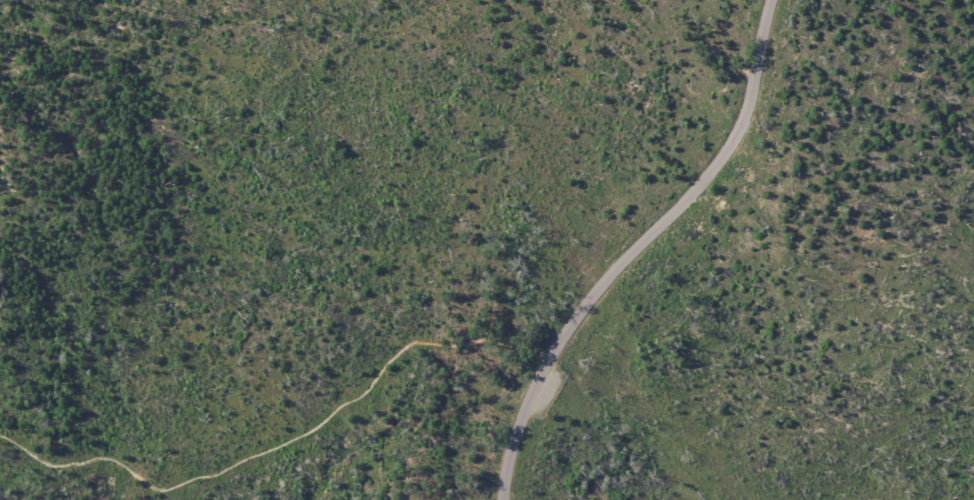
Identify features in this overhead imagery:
road: (634, 248)
park: (487, 250)
road: (281, 439)

